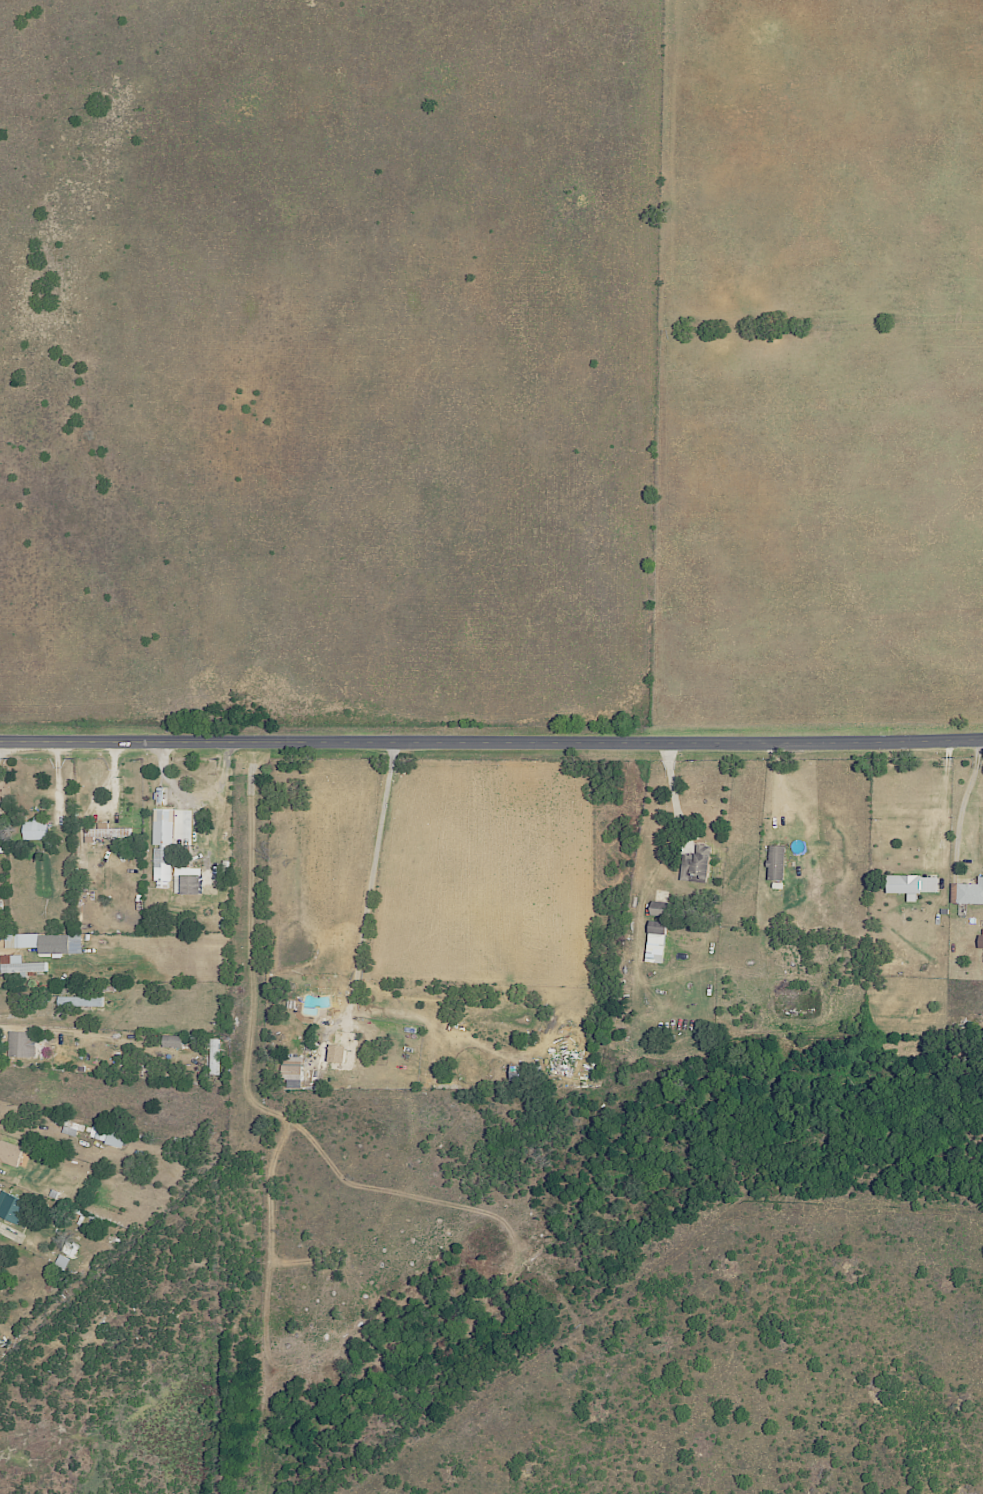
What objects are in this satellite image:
road: (491, 744)
road: (173, 784)
road: (779, 790)
road: (962, 804)
building: (161, 826)
building: (34, 830)
building: (774, 862)
building: (695, 864)
building: (188, 883)
building: (909, 884)
building: (970, 892)
road: (368, 893)
building: (38, 942)
building: (654, 942)
building: (19, 965)
building: (78, 1001)
building: (170, 1041)
building: (20, 1043)
building: (334, 1052)
building: (213, 1056)
building: (291, 1067)
building: (292, 1083)
building: (108, 1136)
building: (9, 1152)
building: (10, 1207)
road: (0, 1226)
building: (68, 1249)
building: (61, 1261)

